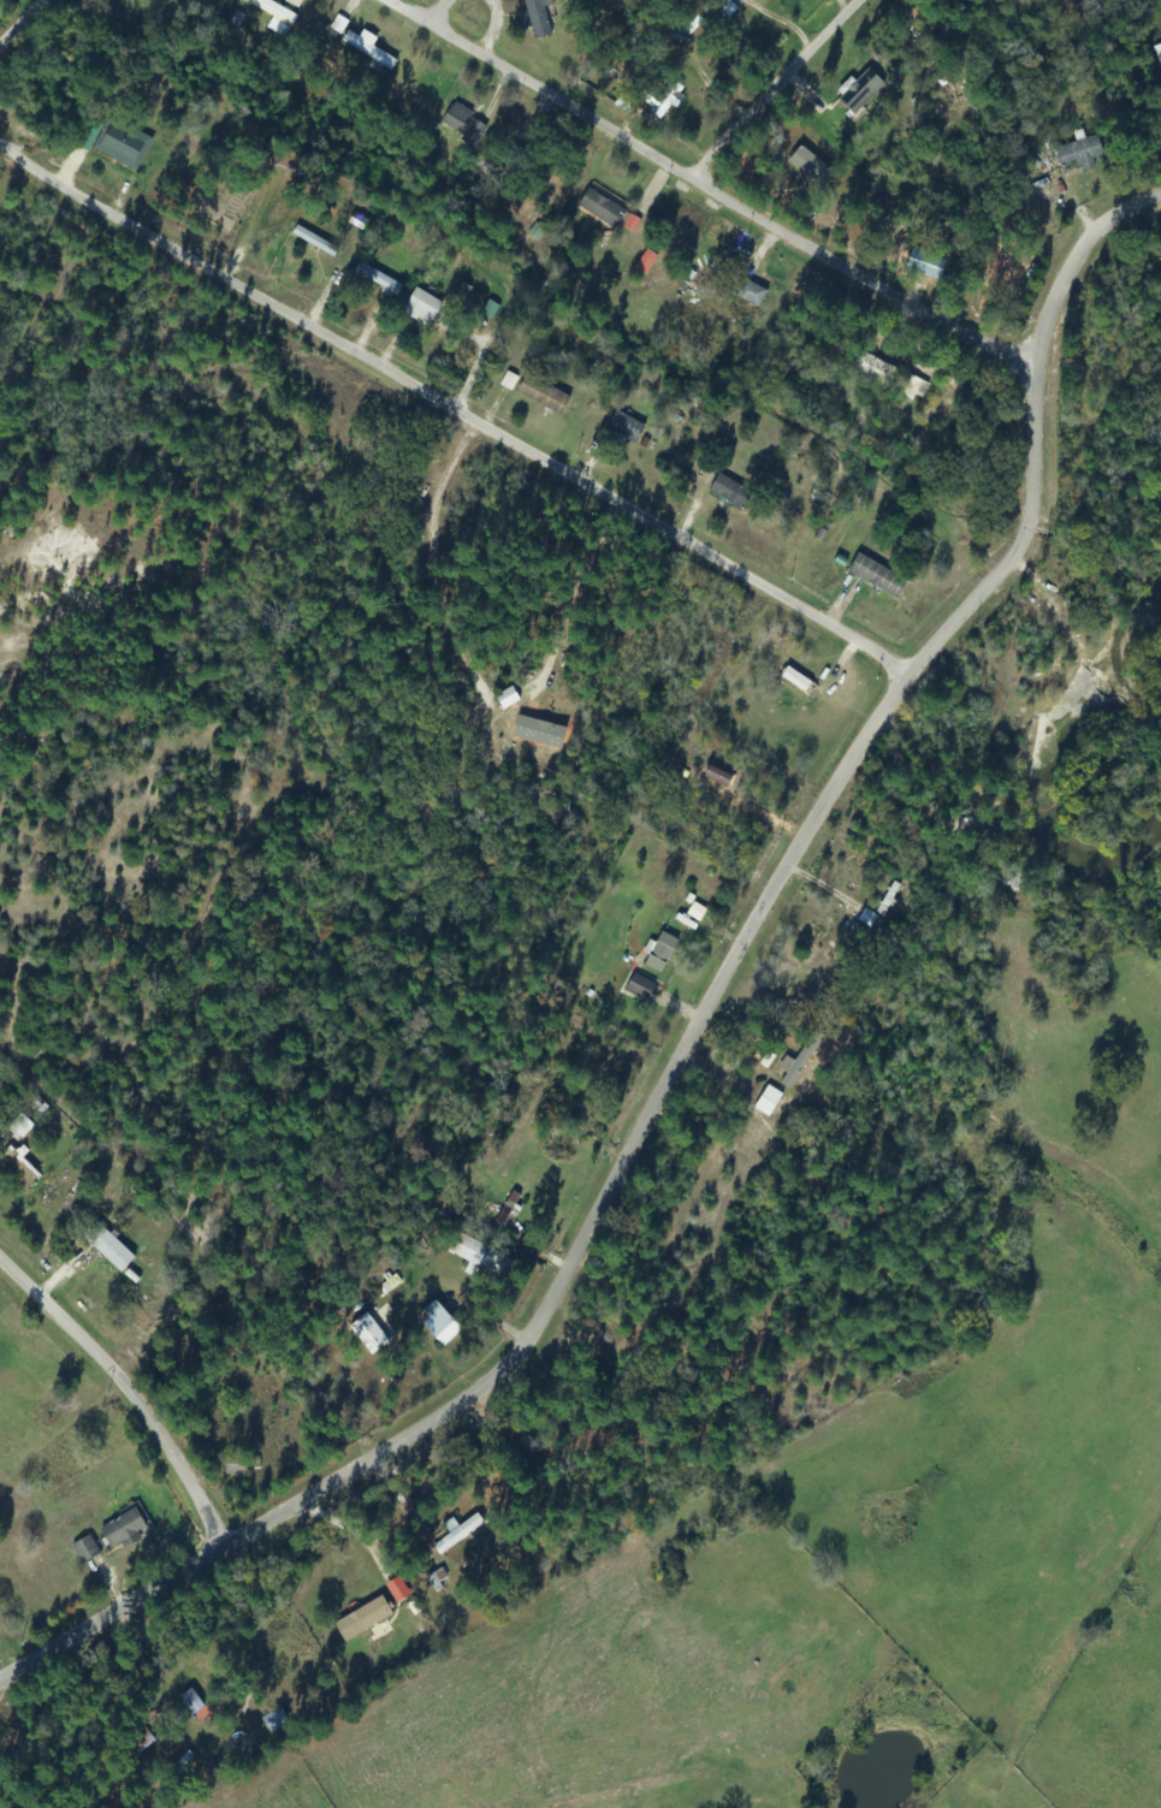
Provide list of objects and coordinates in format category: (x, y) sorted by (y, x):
building: (276, 16)
road: (458, 16)
building: (538, 18)
road: (30, 32)
building: (367, 48)
building: (917, 54)
building: (859, 91)
road: (795, 94)
building: (462, 124)
building: (122, 143)
building: (1079, 153)
road: (715, 190)
building: (602, 208)
building: (375, 278)
building: (432, 310)
building: (908, 386)
road: (456, 416)
building: (623, 427)
building: (728, 491)
building: (875, 574)
building: (789, 682)
road: (31, 743)
building: (1017, 881)
building: (892, 902)
building: (659, 953)
building: (636, 988)
road: (703, 1031)
building: (790, 1066)
building: (766, 1101)
building: (18, 1126)
building: (16, 1169)
building: (106, 1247)
building: (481, 1256)
building: (442, 1318)
road: (135, 1393)
building: (232, 1470)
building: (124, 1529)
building: (456, 1534)
building: (83, 1549)
building: (365, 1616)
building: (191, 1702)
building: (273, 1719)
building: (171, 1751)
road: (794, 1798)

